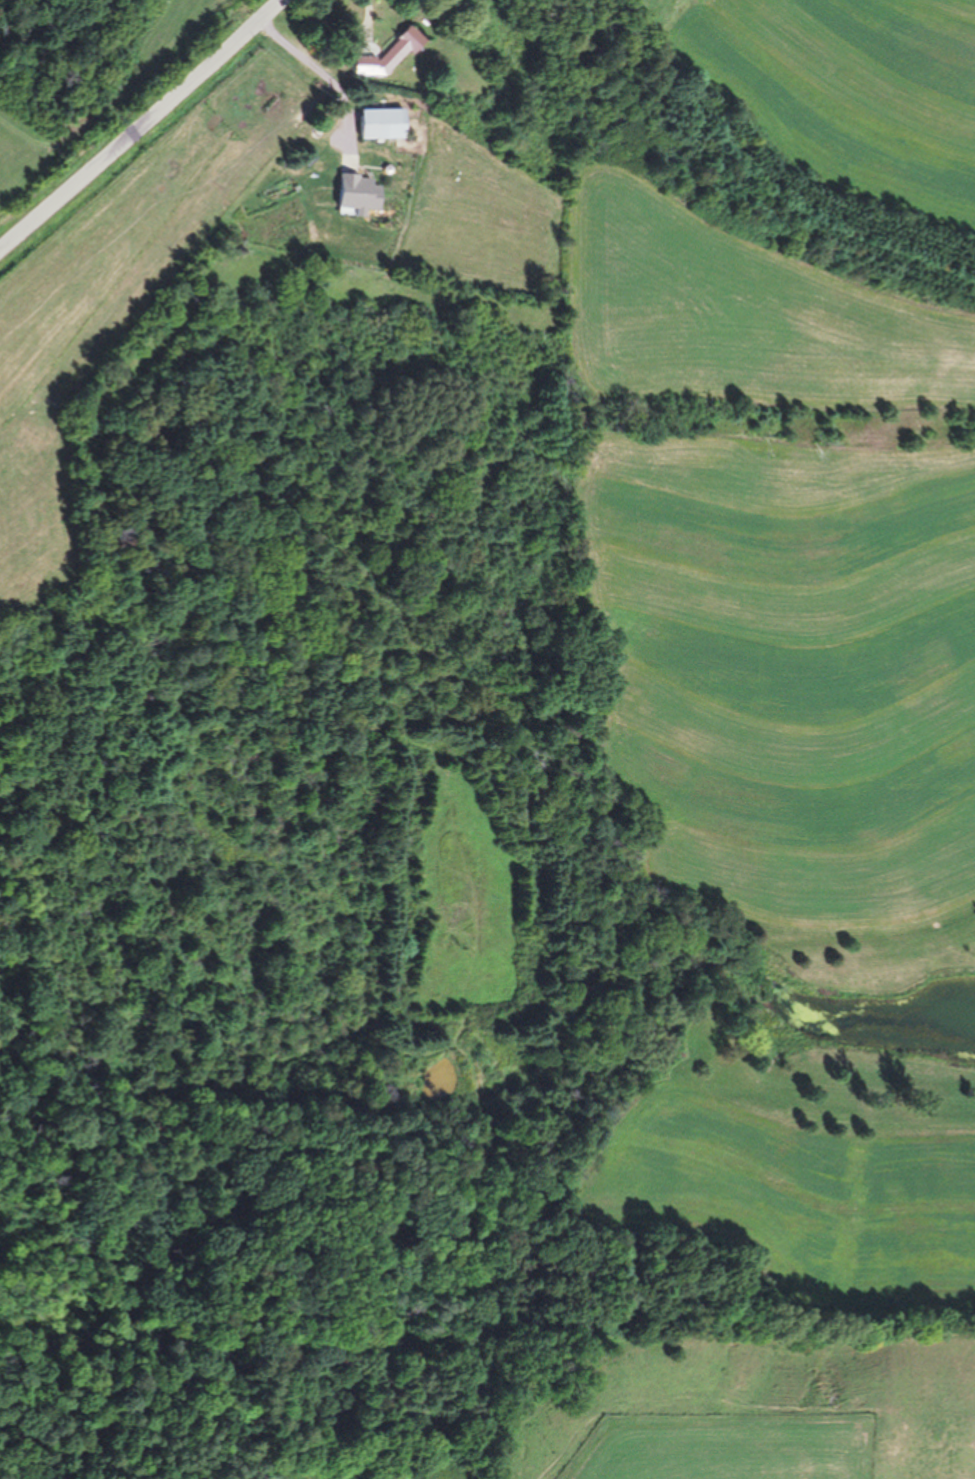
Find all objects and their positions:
building: (392, 52)
building: (382, 124)
road: (140, 125)
building: (359, 192)

